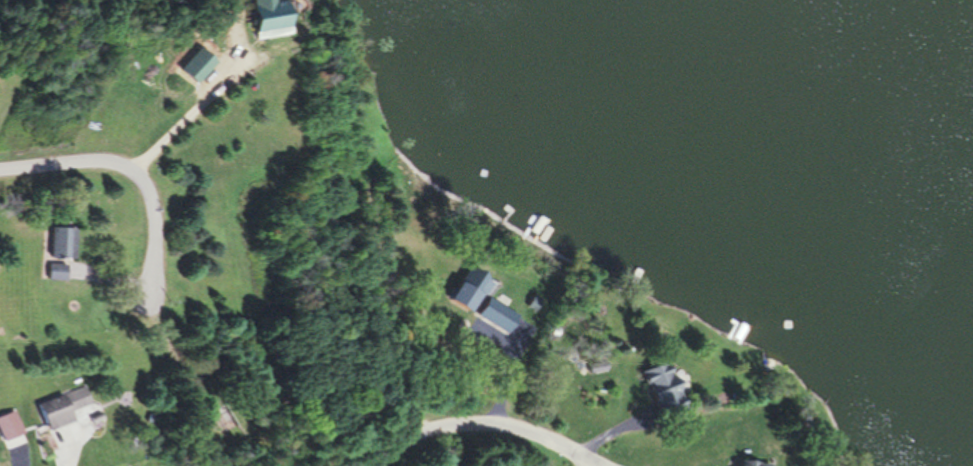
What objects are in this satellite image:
building: (261, 20)
road: (190, 107)
building: (405, 131)
road: (135, 166)
building: (62, 242)
building: (56, 272)
road: (378, 284)
building: (483, 301)
building: (665, 391)
building: (63, 408)
road: (475, 426)
building: (746, 463)

